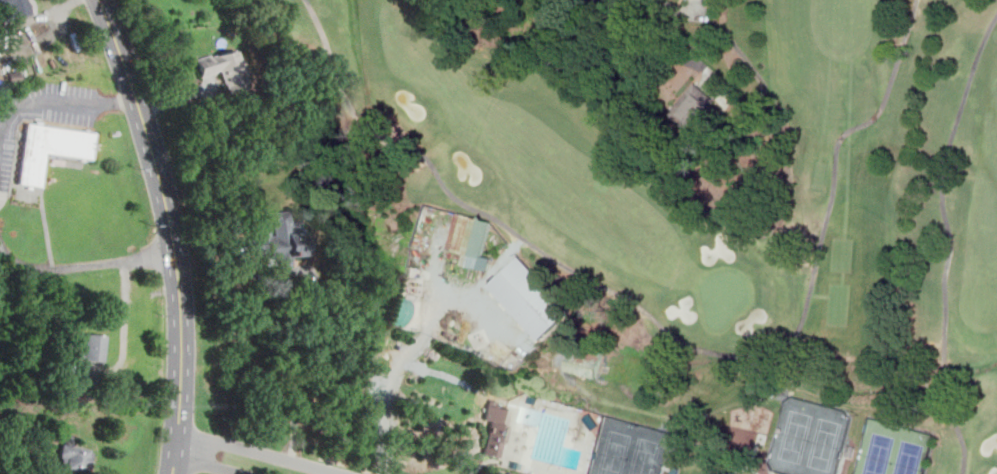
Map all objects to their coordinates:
building: (14, 8)
road: (677, 8)
road: (651, 38)
road: (328, 60)
building: (227, 69)
building: (14, 76)
road: (121, 98)
road: (44, 101)
building: (693, 105)
road: (364, 124)
building: (49, 149)
road: (172, 232)
building: (474, 238)
building: (282, 239)
road: (949, 239)
road: (155, 253)
park: (673, 258)
road: (61, 267)
park: (725, 296)
building: (528, 298)
building: (398, 311)
road: (301, 333)
road: (419, 339)
building: (94, 346)
road: (734, 356)
building: (583, 360)
building: (62, 367)
building: (494, 427)
park: (809, 437)
park: (630, 448)
park: (893, 449)
road: (261, 451)
building: (76, 456)
road: (9, 462)
road: (212, 464)
road: (349, 466)

